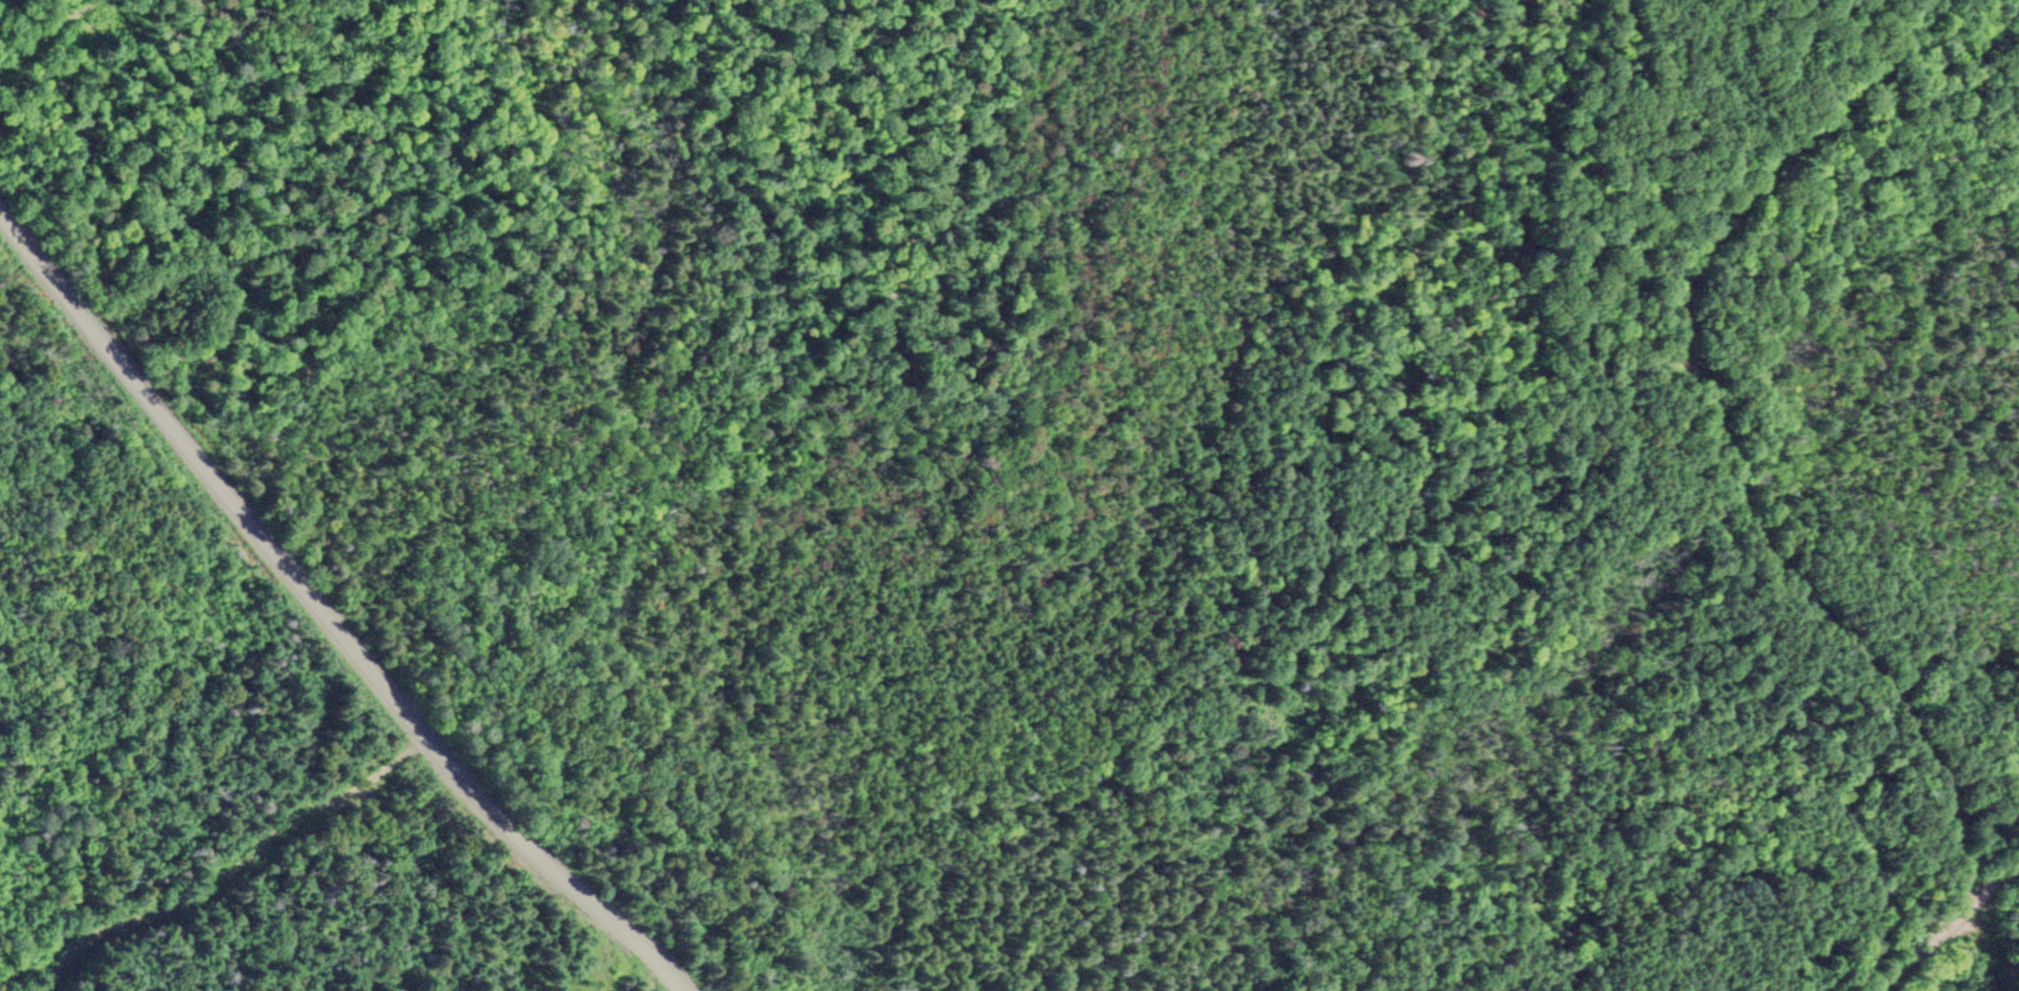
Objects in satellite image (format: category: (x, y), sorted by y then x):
road: (35, 30)
road: (1737, 470)
road: (327, 622)
road: (232, 870)
road: (1937, 925)

